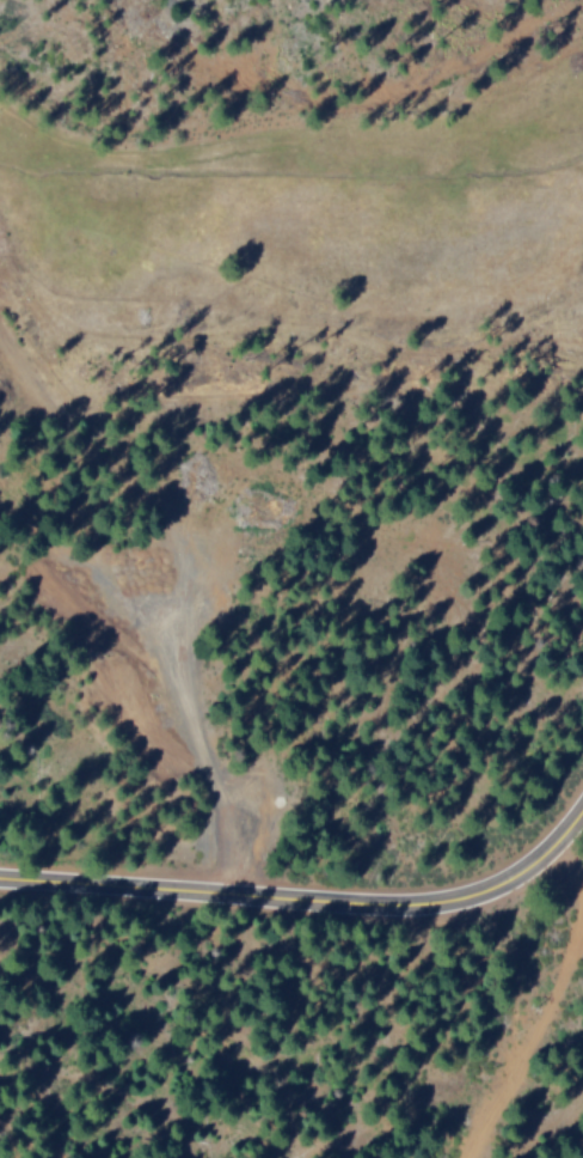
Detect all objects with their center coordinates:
road: (570, 842)
road: (309, 895)

